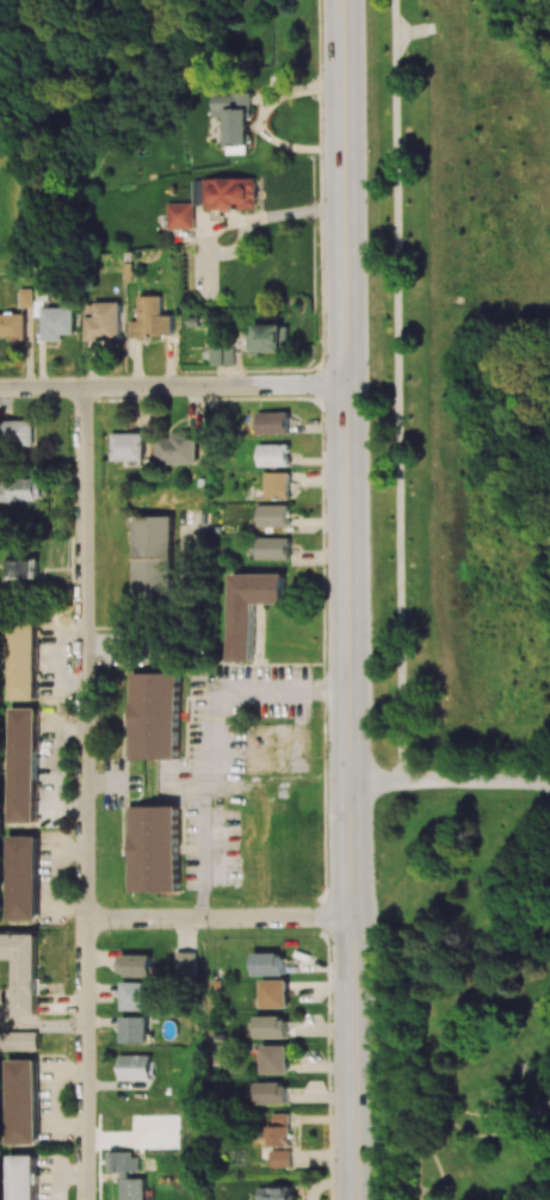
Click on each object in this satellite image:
road: (345, 192)
building: (225, 193)
building: (180, 216)
building: (26, 298)
building: (152, 318)
building: (57, 322)
building: (103, 322)
building: (12, 327)
building: (272, 338)
building: (223, 355)
road: (173, 385)
road: (398, 389)
building: (272, 422)
building: (18, 433)
building: (128, 446)
building: (179, 449)
building: (273, 454)
building: (277, 485)
building: (24, 489)
building: (274, 515)
building: (274, 548)
building: (153, 558)
building: (24, 567)
park: (478, 592)
building: (248, 608)
building: (18, 656)
building: (154, 716)
road: (204, 730)
building: (19, 766)
road: (450, 780)
road: (351, 791)
road: (84, 793)
building: (154, 848)
building: (18, 877)
road: (218, 917)
building: (186, 963)
building: (270, 964)
building: (136, 965)
building: (21, 971)
building: (274, 994)
building: (136, 996)
road: (42, 1025)
building: (271, 1027)
building: (135, 1028)
building: (18, 1041)
building: (276, 1059)
building: (136, 1068)
building: (530, 1069)
road: (432, 1084)
building: (272, 1094)
road: (538, 1094)
building: (19, 1102)
road: (545, 1106)
road: (545, 1109)
building: (279, 1130)
road: (481, 1136)
building: (280, 1158)
road: (420, 1162)
road: (444, 1169)
building: (128, 1175)
building: (20, 1177)
building: (277, 1193)
road: (421, 1196)

